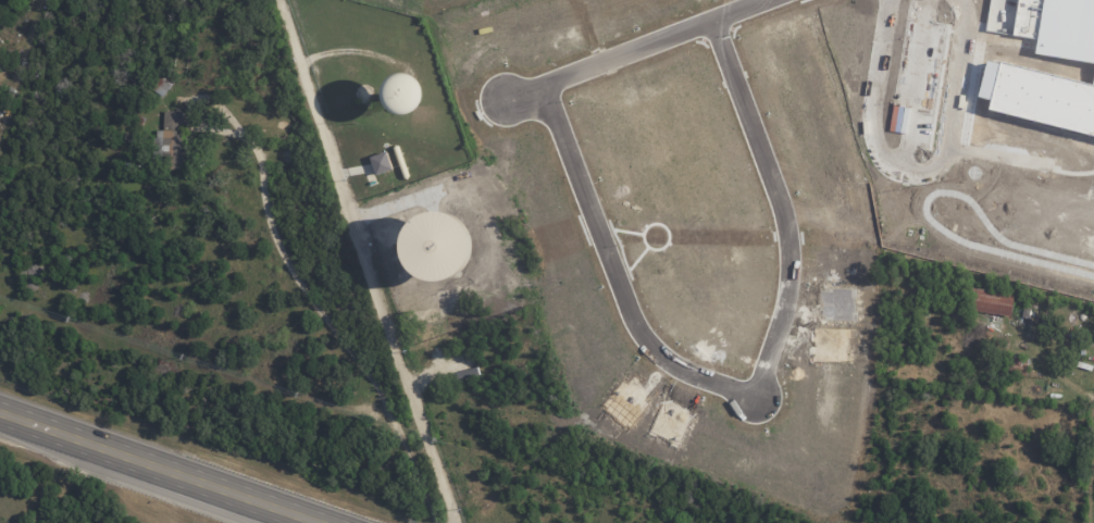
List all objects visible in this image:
road: (735, 10)
building: (1056, 25)
water tower: (381, 71)
building: (161, 84)
building: (1037, 88)
building: (412, 96)
road: (191, 104)
building: (170, 140)
road: (917, 154)
building: (382, 163)
road: (365, 261)
building: (992, 302)
road: (334, 327)
road: (666, 360)
building: (459, 361)
building: (1017, 365)
building: (467, 374)
road: (157, 469)

